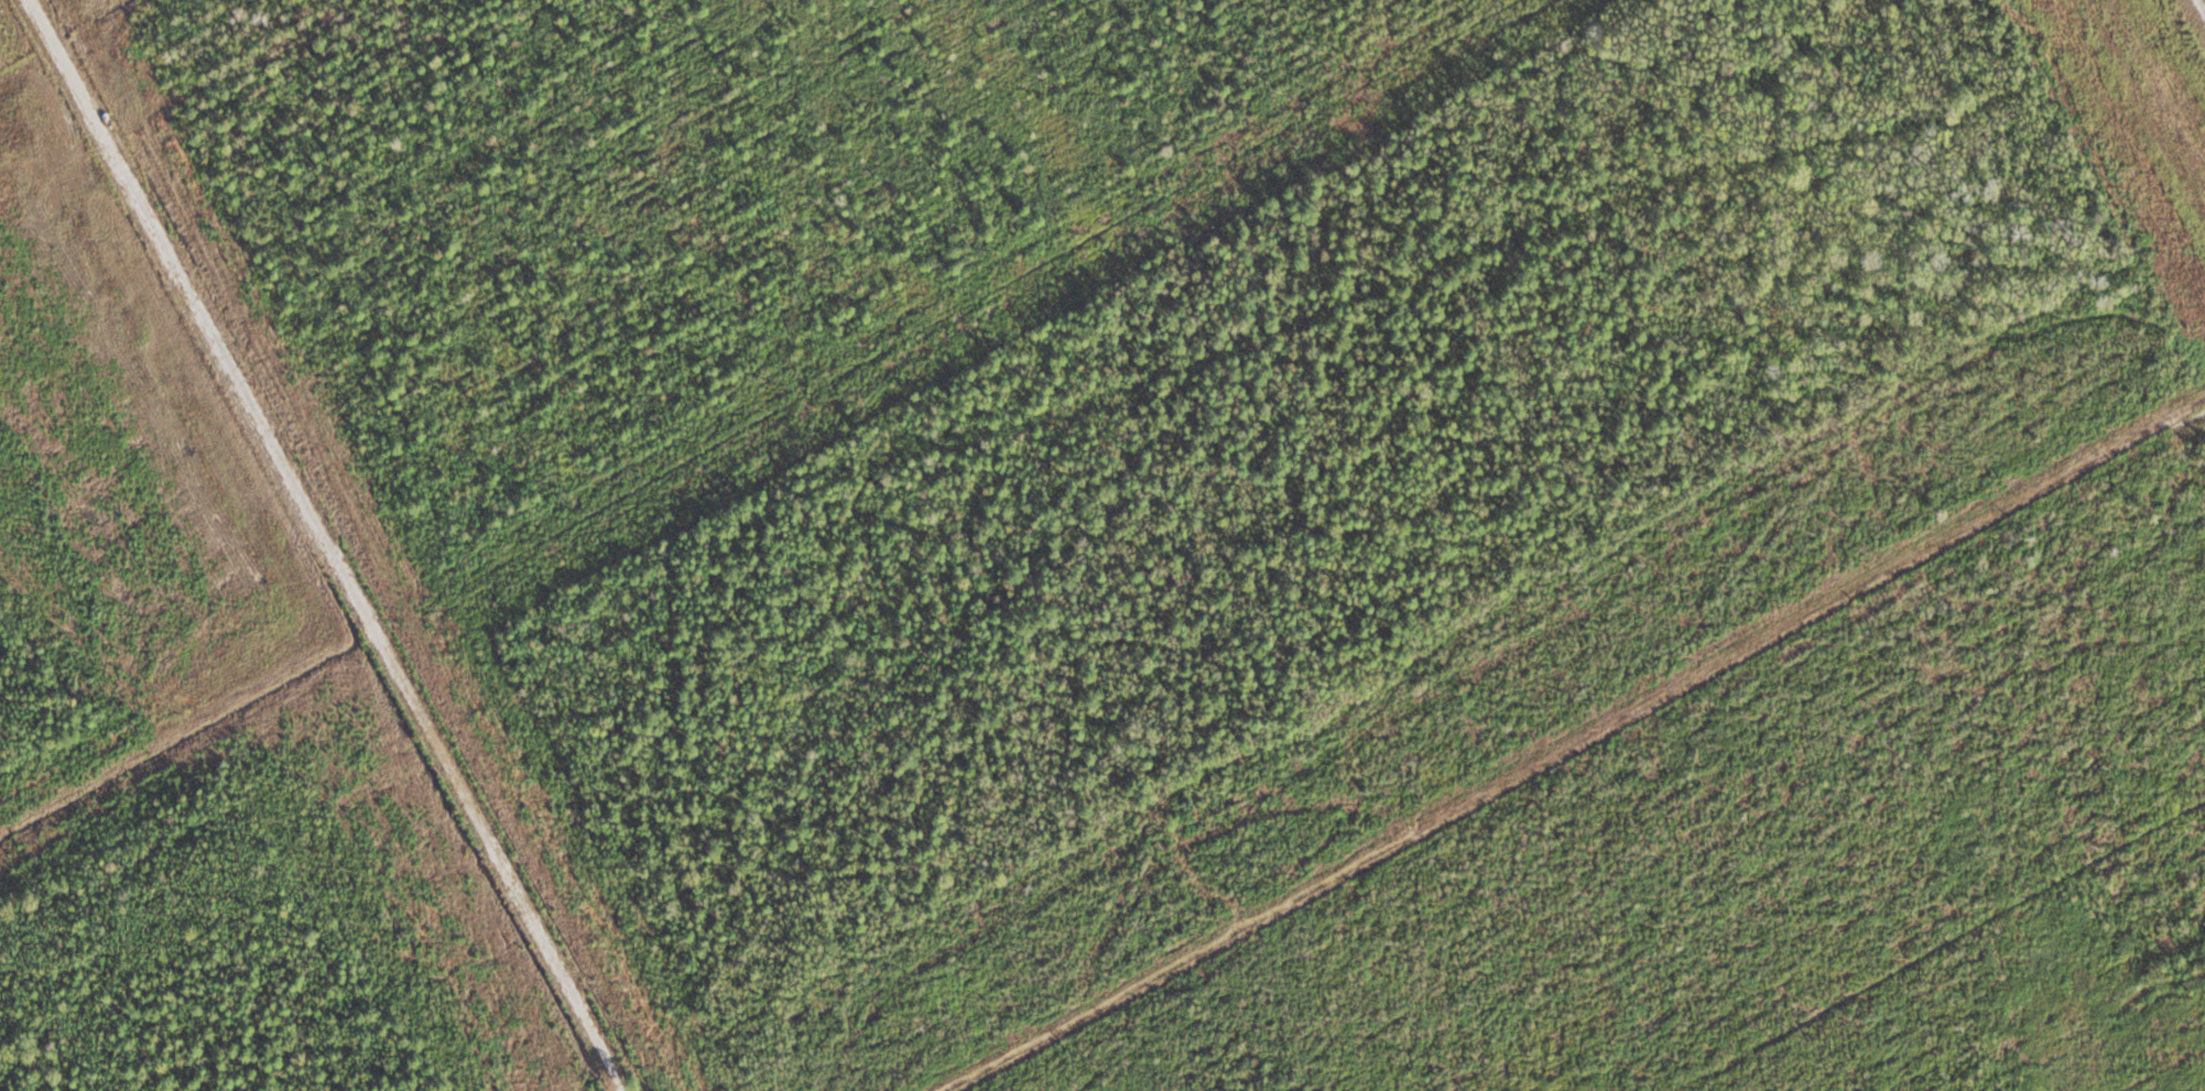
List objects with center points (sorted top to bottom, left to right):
road: (2161, 77)

